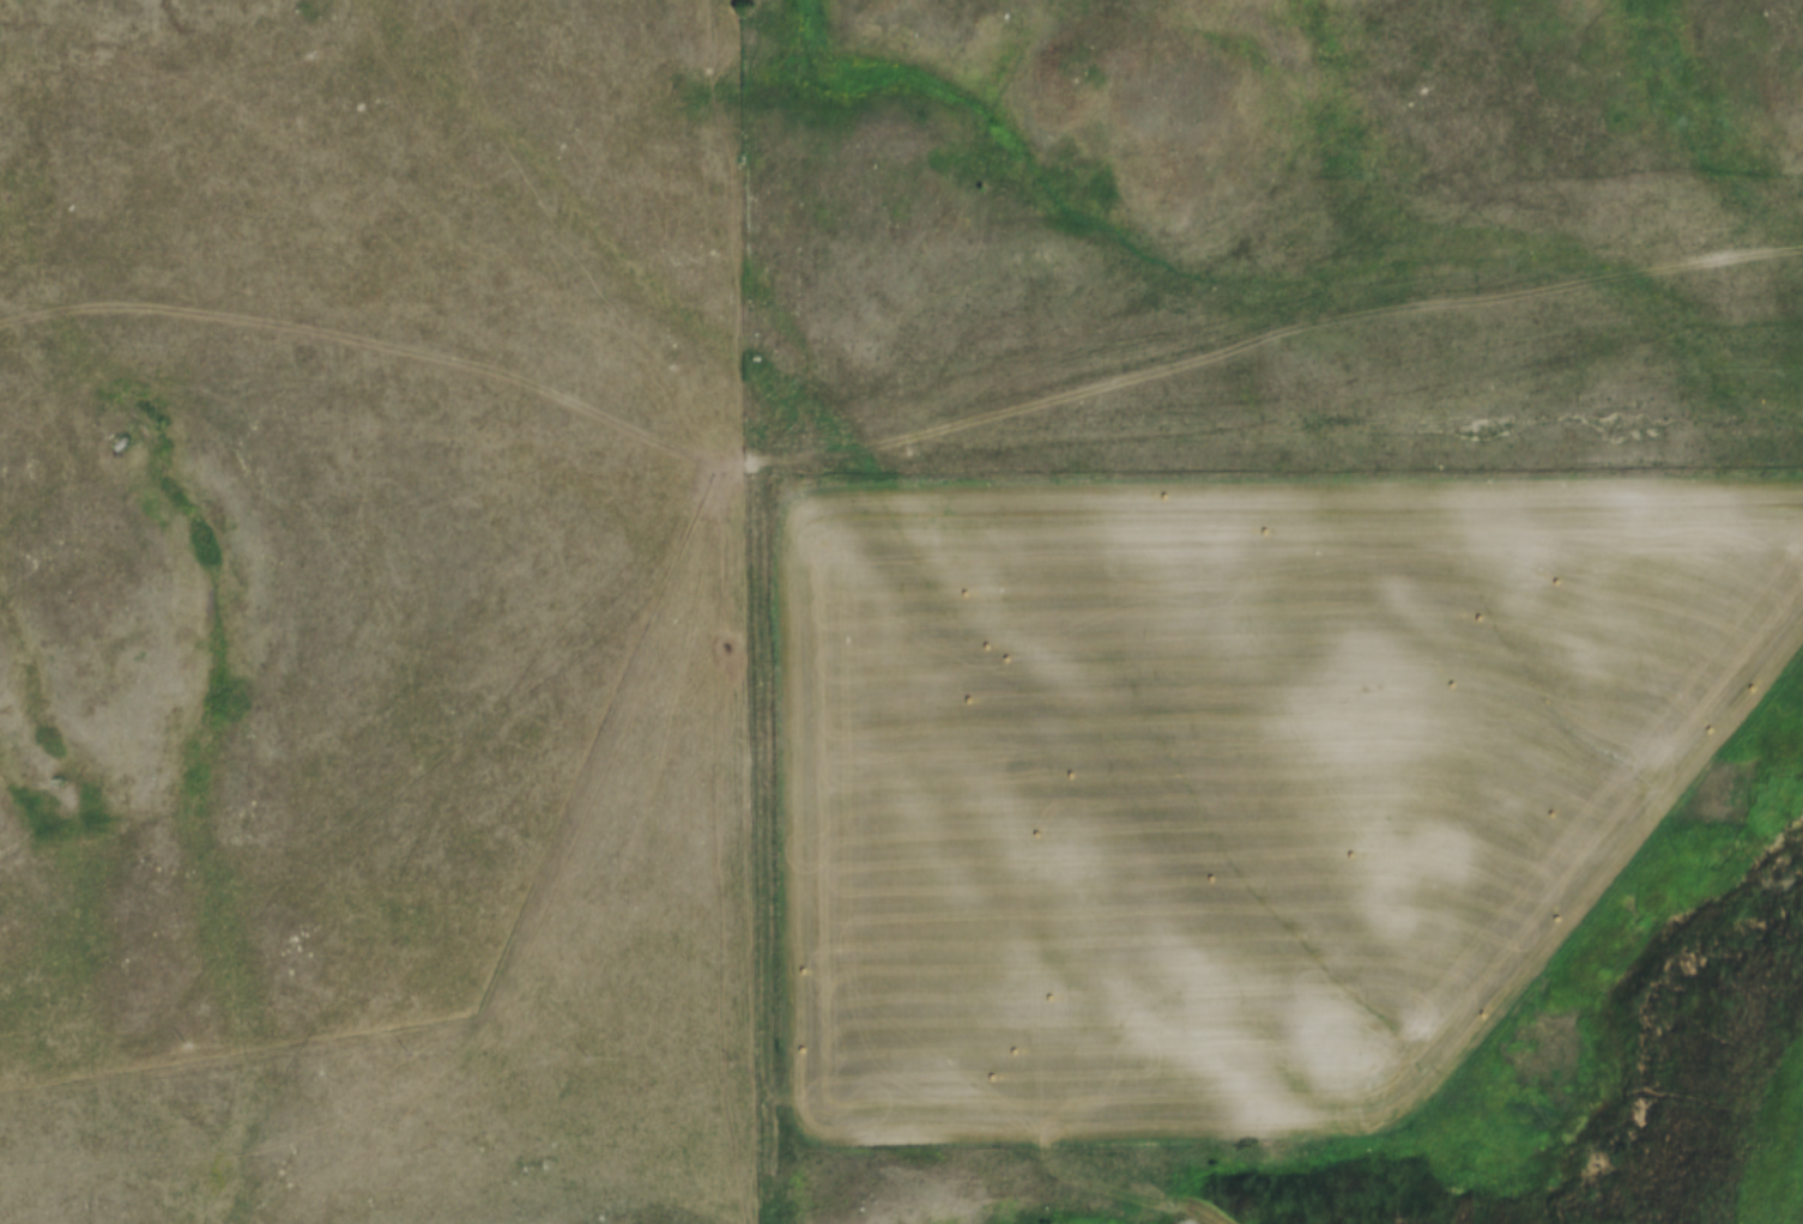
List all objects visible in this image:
road: (897, 440)

